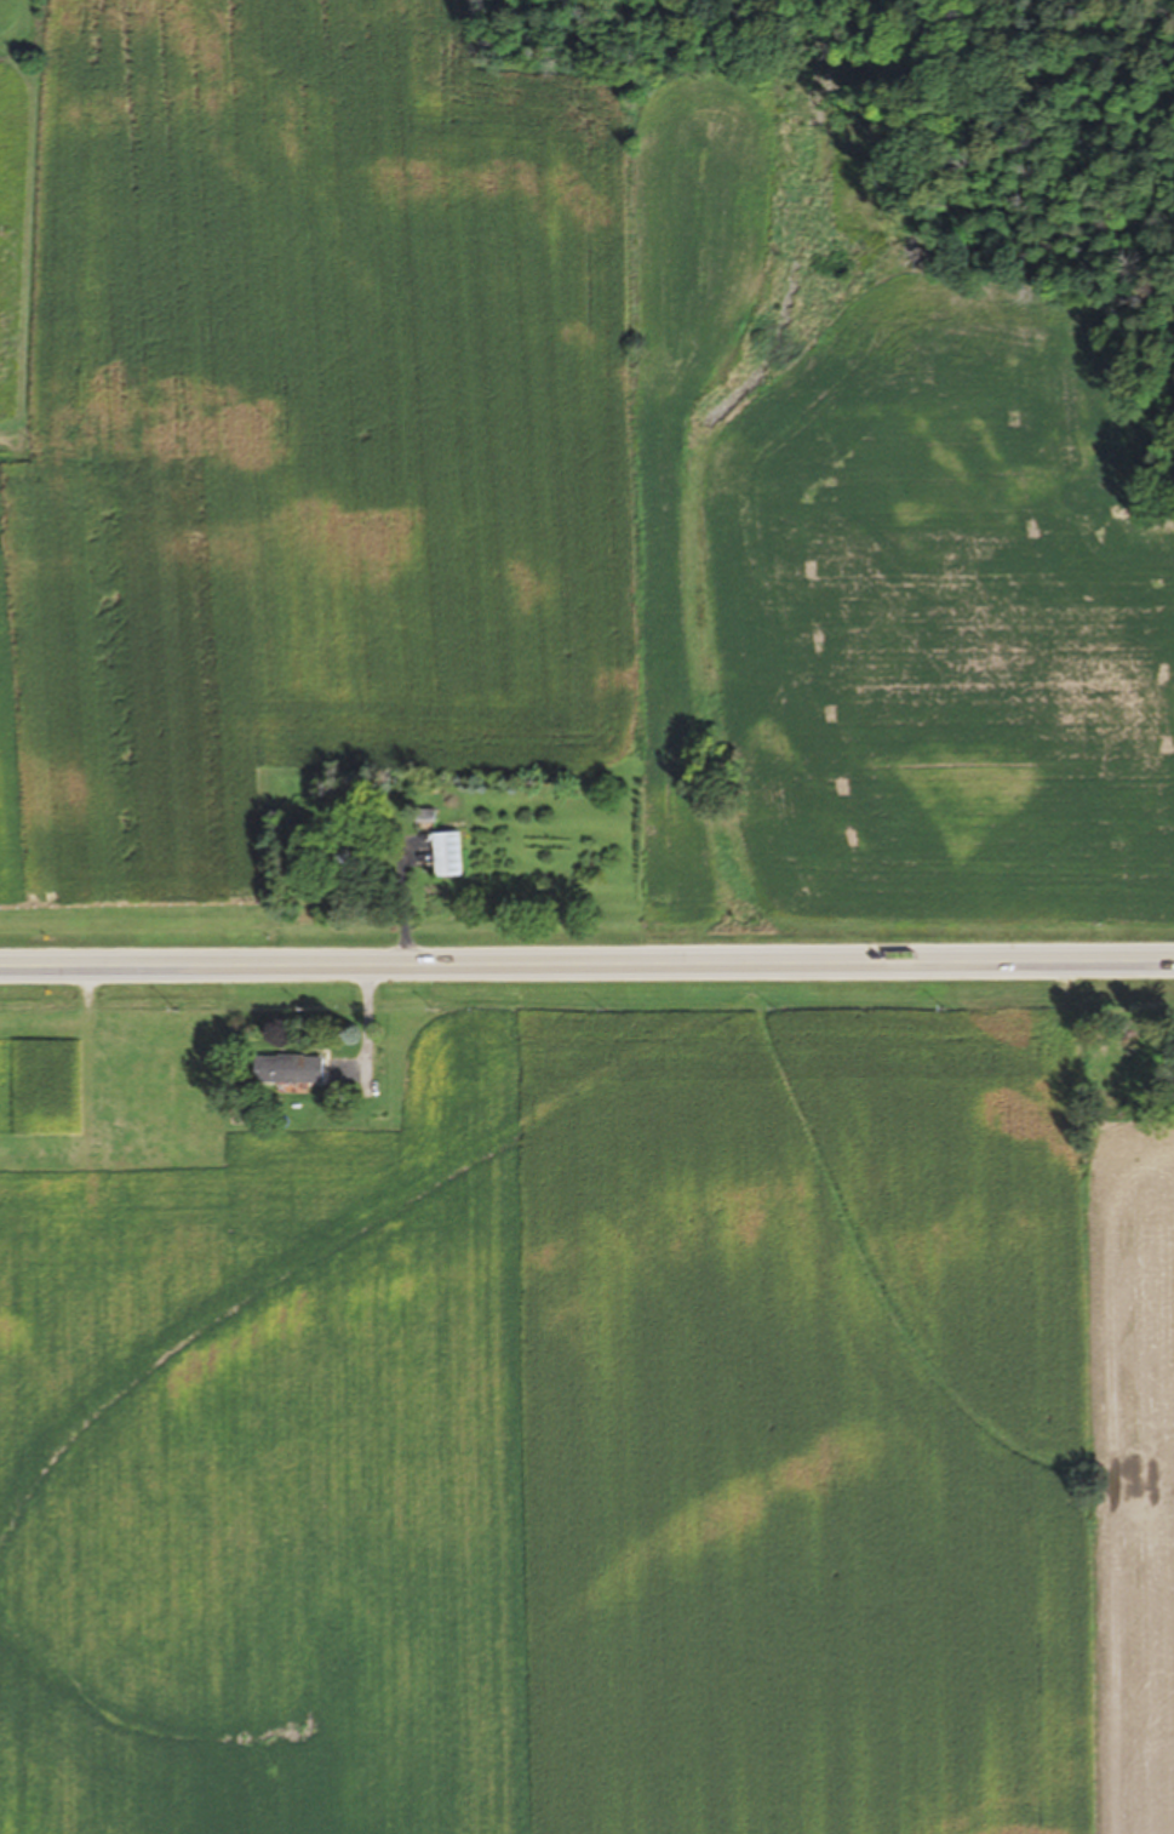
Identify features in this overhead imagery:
building: (446, 857)
road: (586, 954)
building: (288, 1073)

